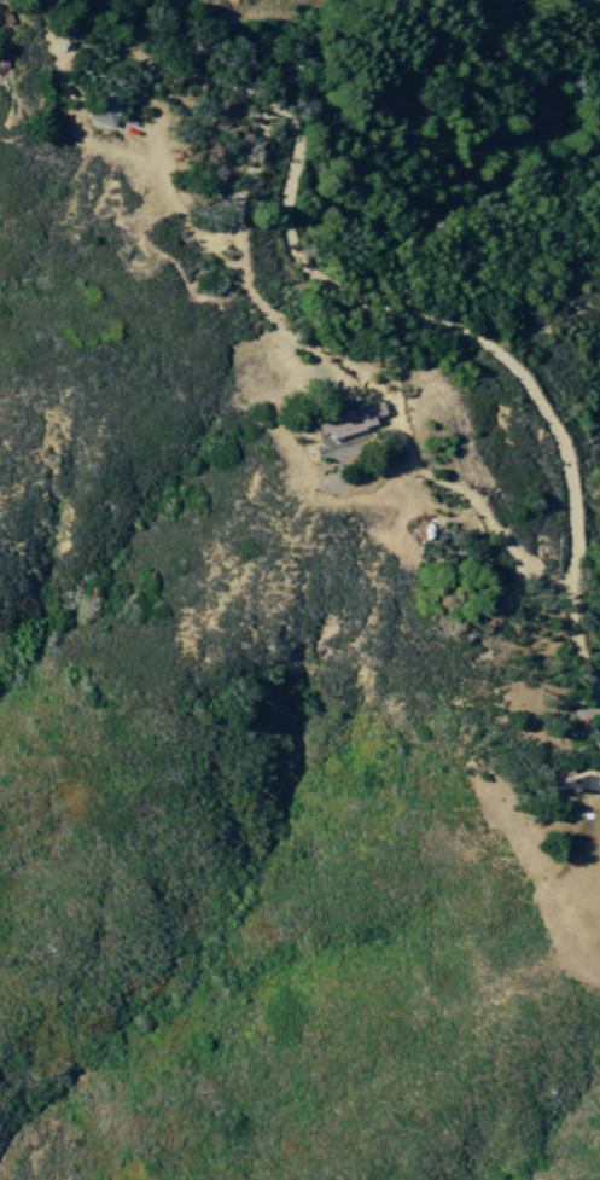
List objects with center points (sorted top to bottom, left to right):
road: (126, 28)
road: (221, 79)
building: (111, 109)
road: (206, 246)
road: (442, 324)
building: (357, 422)
road: (572, 634)

